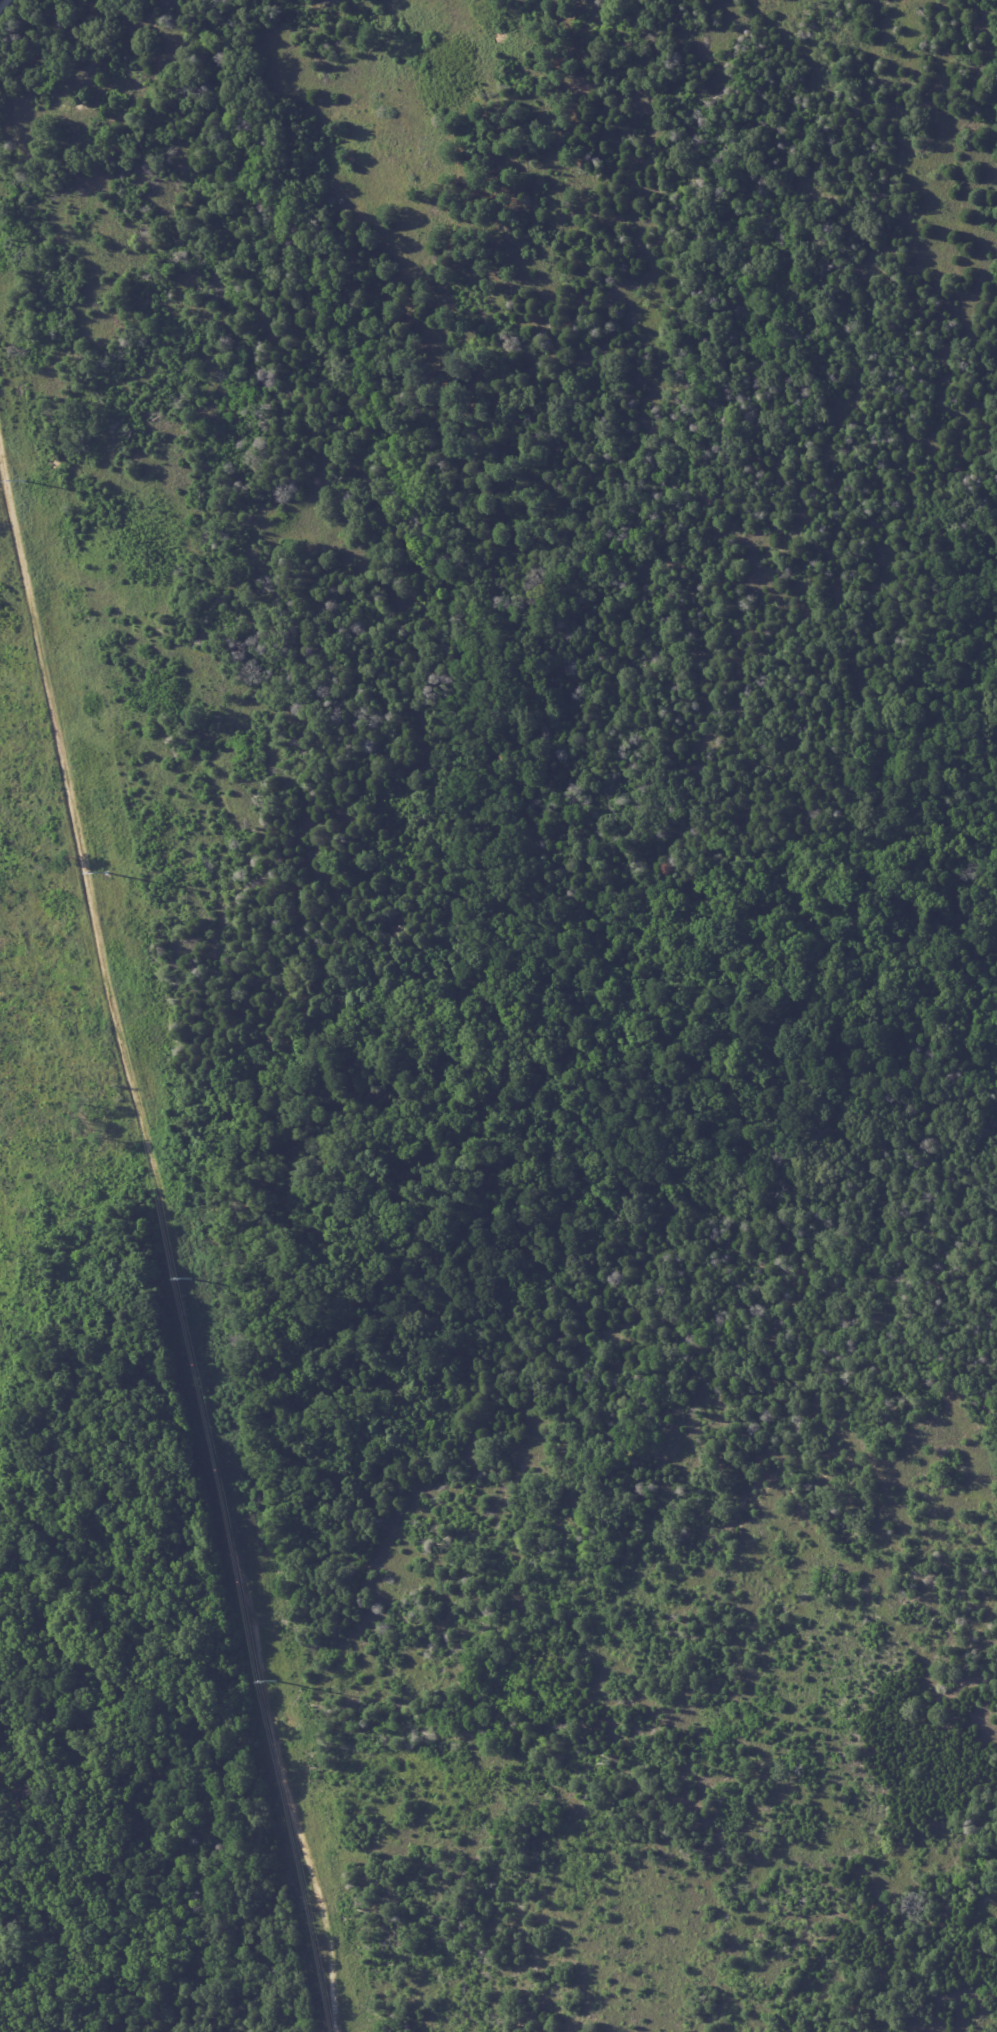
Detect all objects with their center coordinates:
road: (4, 4)
power tower: (23, 482)
power tower: (105, 874)
power tower: (189, 1280)
power tower: (274, 1681)

